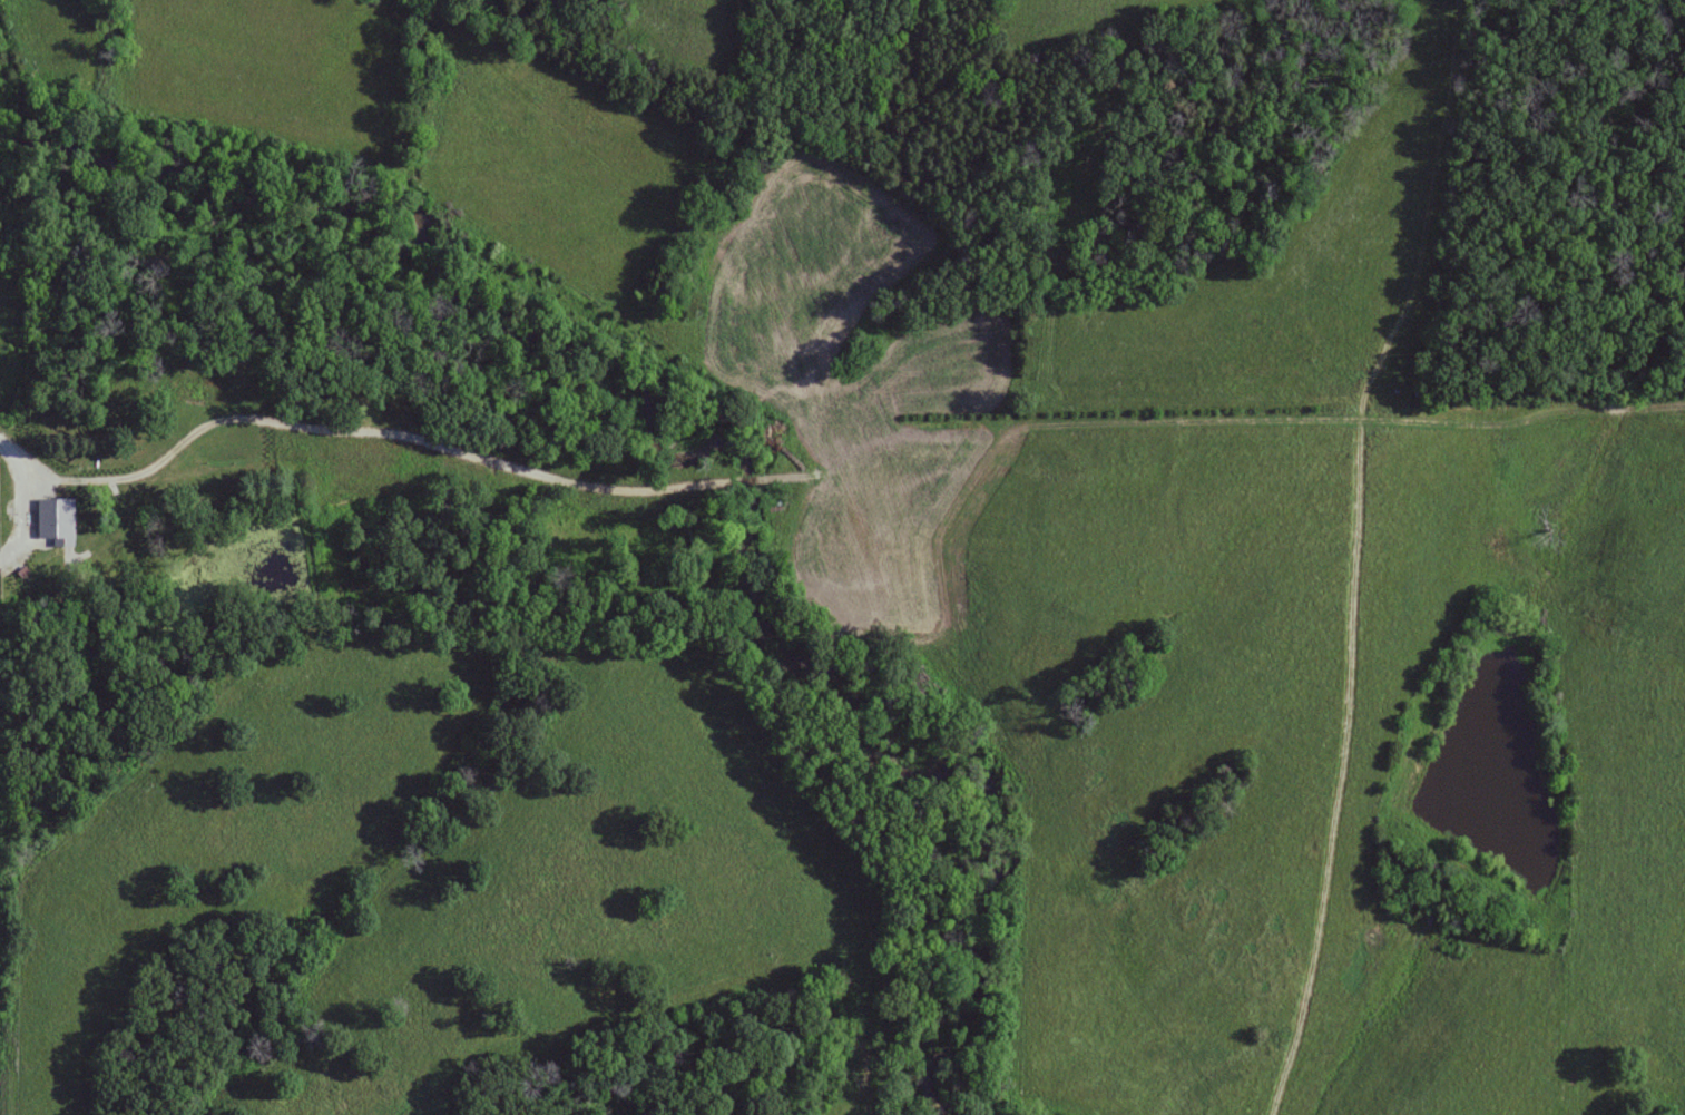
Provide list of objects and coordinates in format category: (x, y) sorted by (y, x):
building: (55, 516)

